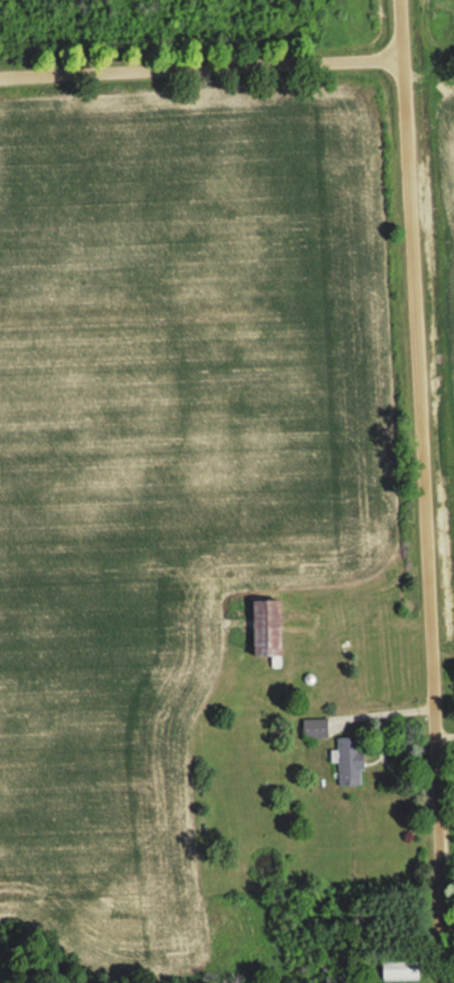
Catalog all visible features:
road: (202, 70)
road: (423, 491)
building: (278, 629)
building: (319, 729)
building: (355, 762)
building: (405, 970)

